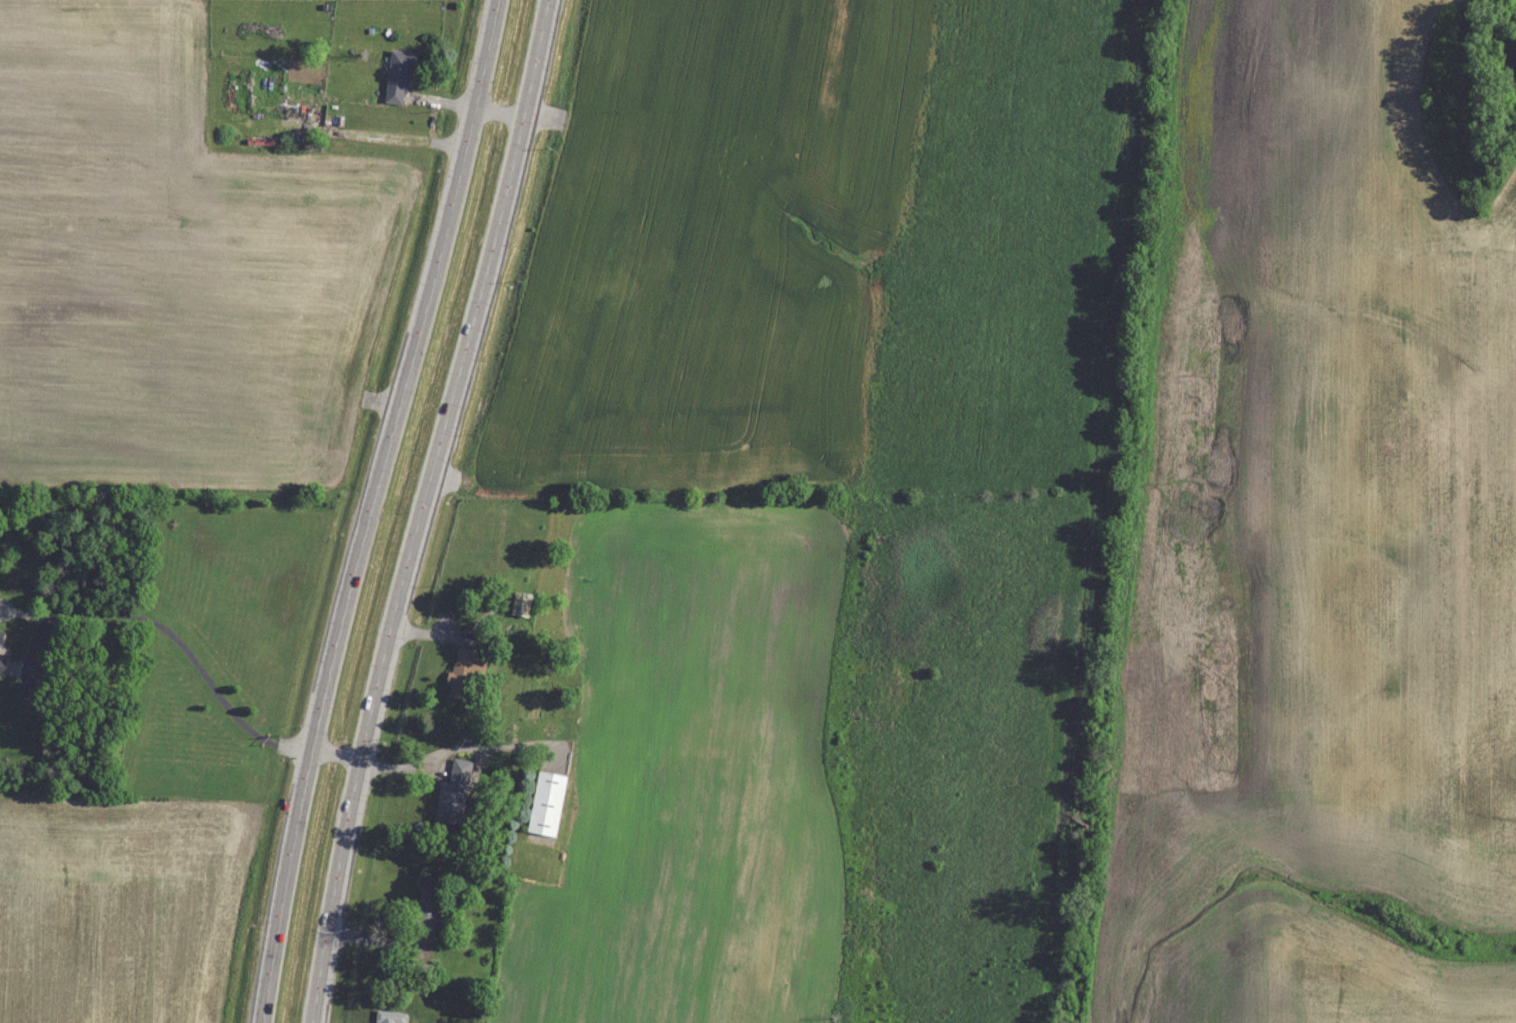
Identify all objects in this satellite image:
building: (398, 76)
road: (368, 508)
road: (423, 509)
building: (521, 603)
building: (2, 651)
building: (463, 673)
building: (453, 793)
building: (546, 803)
building: (427, 912)
building: (390, 1017)

